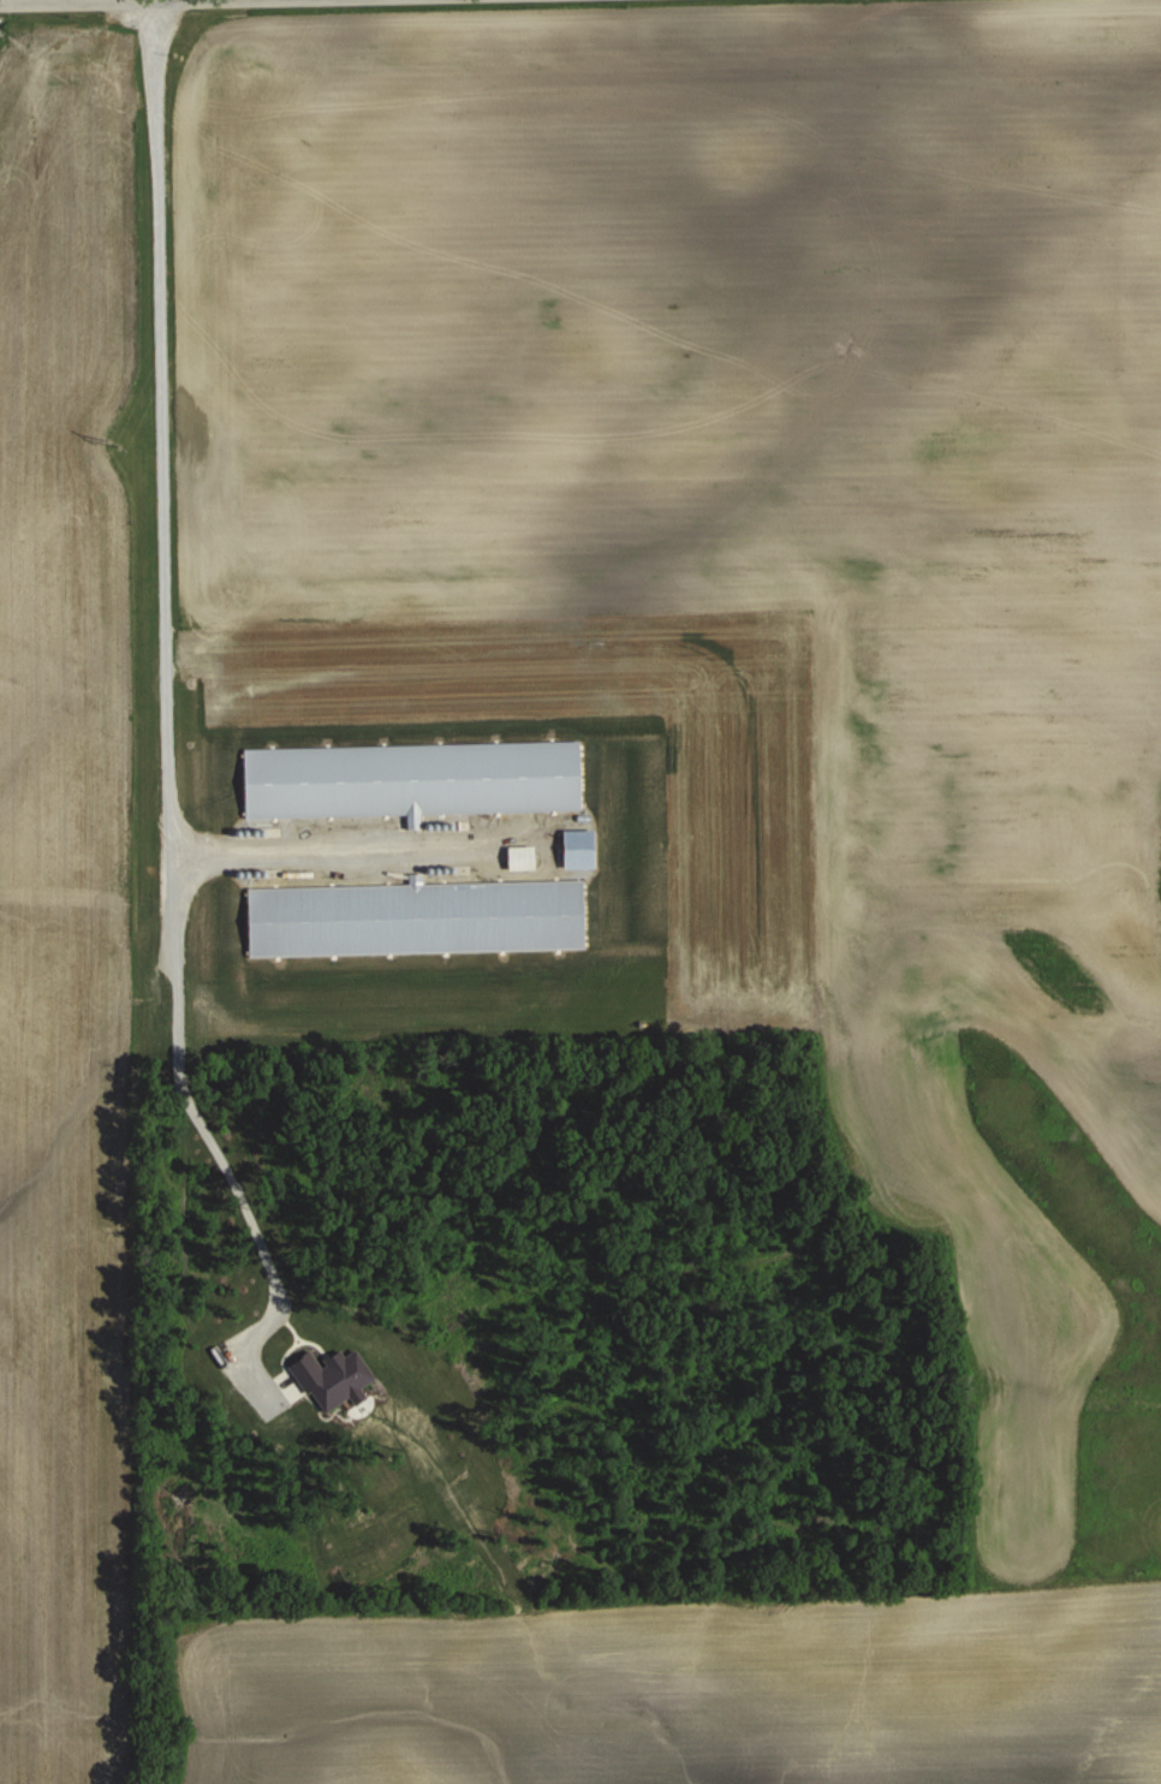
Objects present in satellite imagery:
power tower: (115, 444)
road: (166, 710)
building: (413, 779)
building: (417, 917)

